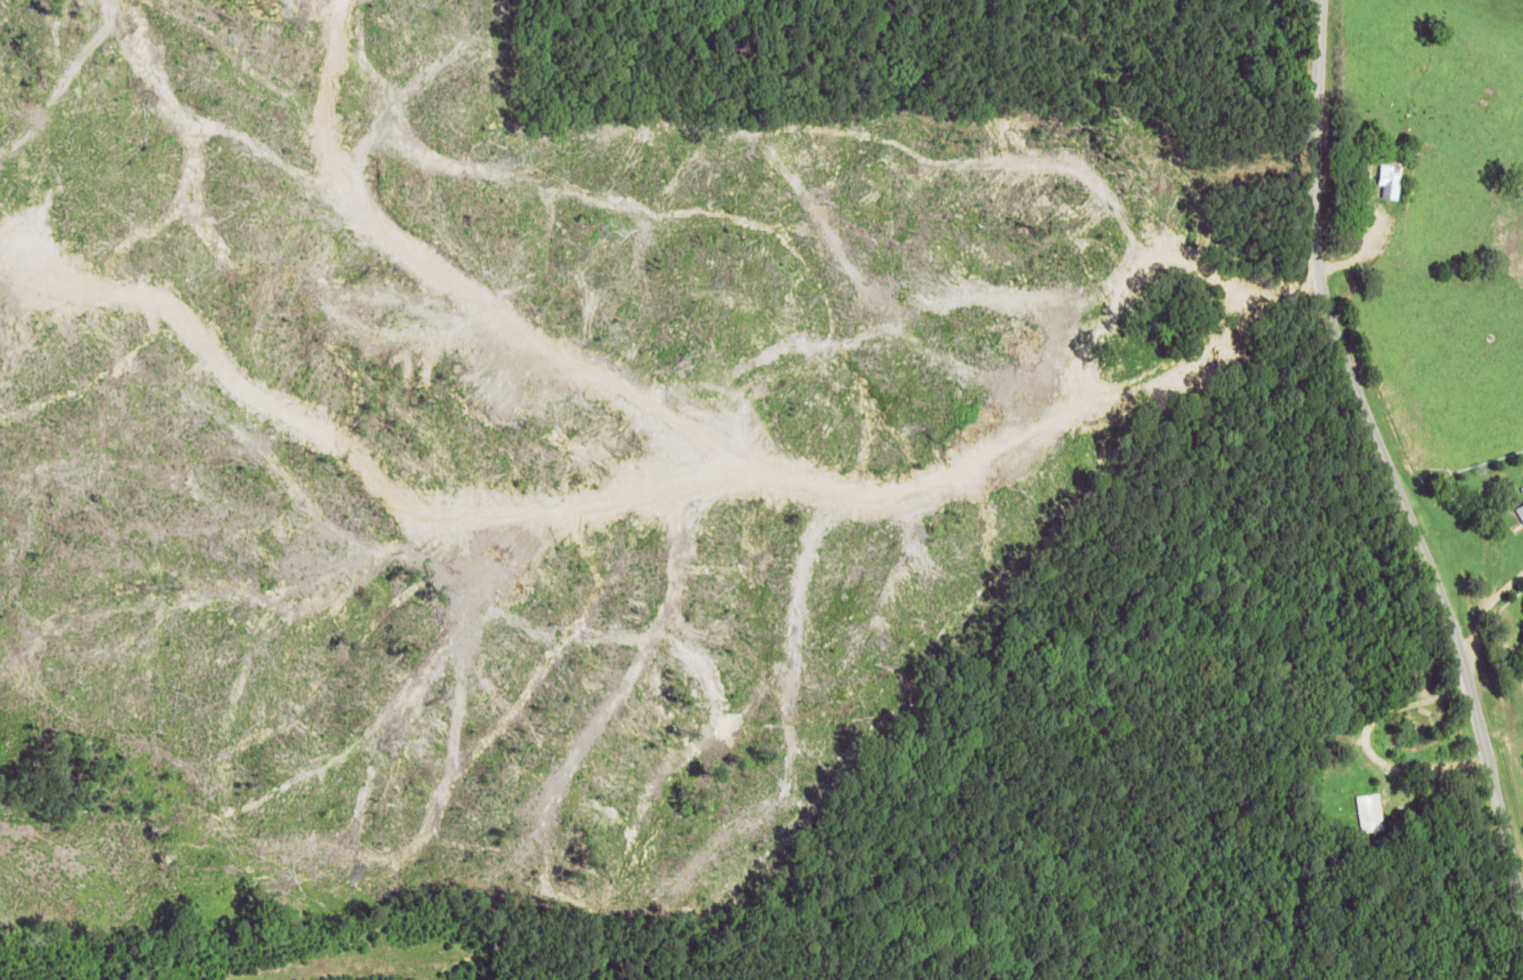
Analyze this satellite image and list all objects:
building: (1390, 180)
road: (1360, 451)
building: (1520, 512)
building: (1370, 811)

